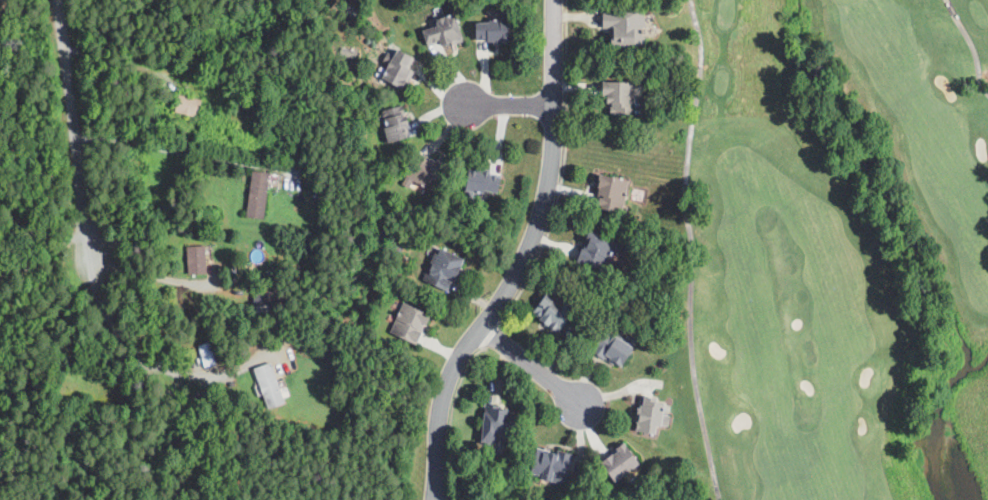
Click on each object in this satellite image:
building: (618, 29)
building: (647, 29)
building: (494, 31)
building: (446, 32)
road: (117, 61)
building: (403, 70)
building: (613, 99)
road: (508, 104)
building: (188, 106)
building: (399, 125)
road: (73, 128)
road: (170, 148)
building: (430, 170)
building: (486, 180)
building: (613, 192)
building: (259, 194)
park: (833, 249)
building: (599, 251)
road: (43, 253)
road: (522, 259)
building: (197, 260)
building: (448, 268)
road: (147, 278)
building: (262, 299)
building: (559, 308)
building: (414, 322)
road: (126, 346)
building: (616, 348)
building: (207, 355)
road: (532, 364)
building: (270, 385)
building: (652, 414)
building: (501, 425)
building: (624, 461)
building: (554, 465)

